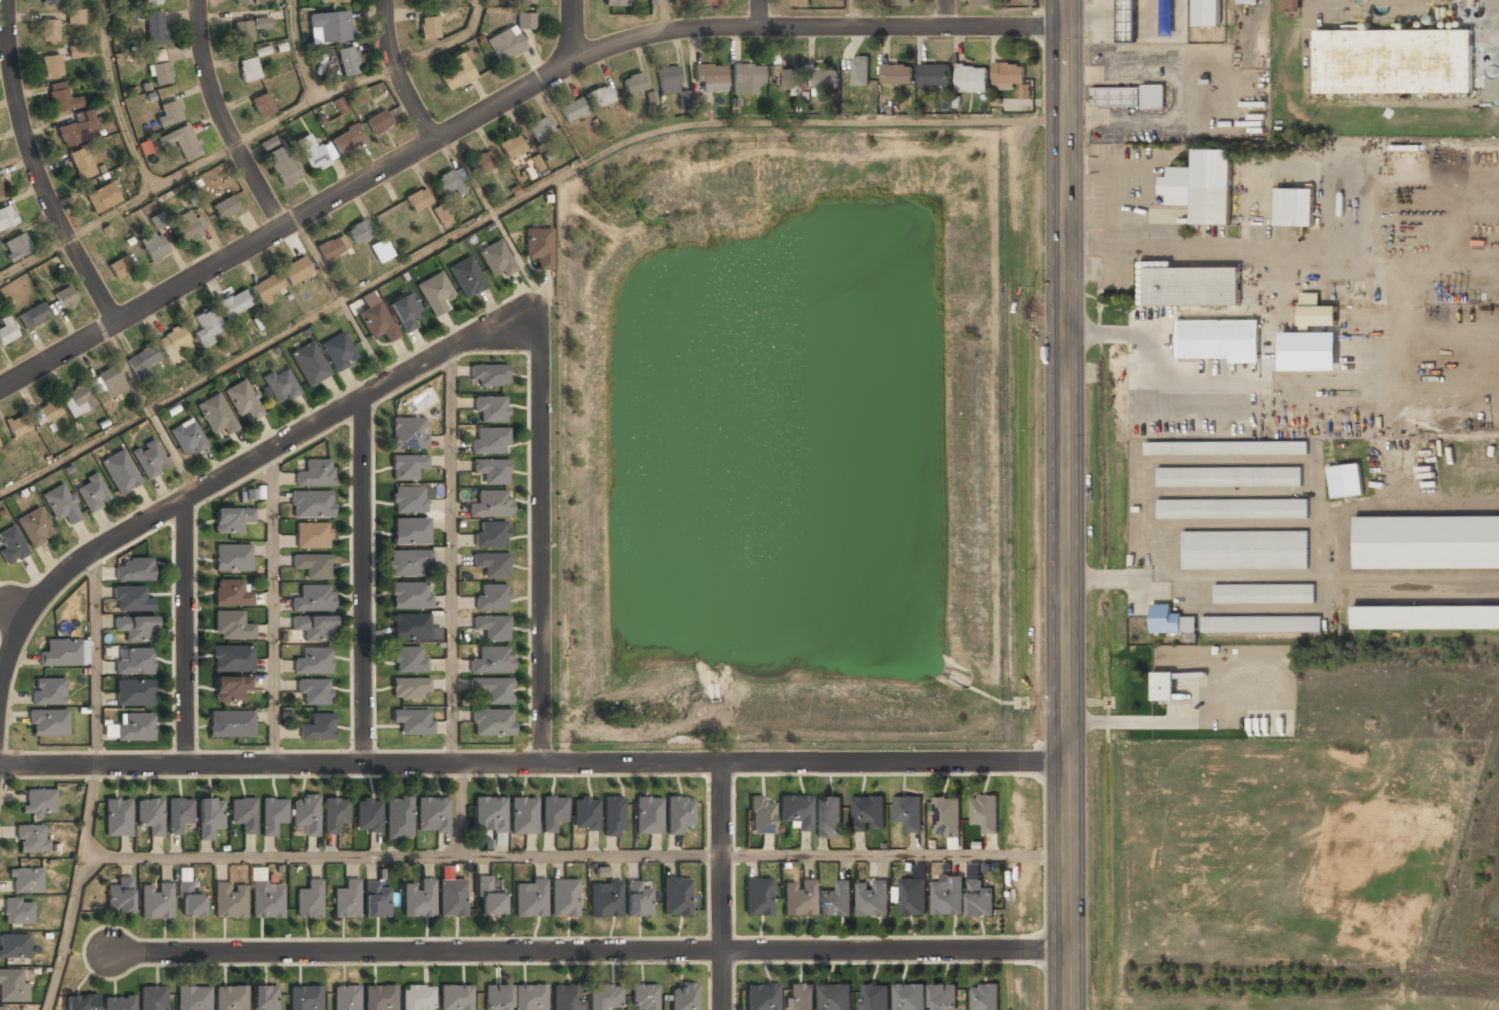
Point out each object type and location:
building: (429, 0)
building: (334, 1)
building: (527, 1)
building: (986, 1)
building: (1248, 1)
building: (50, 2)
building: (152, 2)
building: (249, 2)
building: (678, 2)
building: (709, 2)
building: (800, 2)
building: (899, 2)
building: (613, 3)
building: (1291, 5)
building: (1207, 12)
road: (851, 13)
road: (946, 13)
road: (759, 14)
building: (75, 16)
road: (660, 16)
building: (526, 20)
building: (1127, 21)
building: (261, 23)
building: (429, 26)
building: (329, 27)
building: (155, 28)
road: (571, 30)
building: (49, 31)
building: (243, 32)
building: (506, 44)
road: (298, 49)
building: (76, 51)
building: (347, 61)
building: (1394, 61)
building: (52, 67)
building: (160, 68)
building: (249, 68)
building: (458, 69)
building: (861, 70)
building: (897, 73)
road: (397, 74)
building: (934, 75)
building: (1010, 77)
building: (710, 78)
building: (825, 78)
building: (746, 79)
building: (787, 79)
building: (972, 79)
building: (668, 80)
building: (634, 83)
building: (1026, 91)
building: (600, 96)
building: (1128, 96)
building: (61, 98)
road: (116, 98)
road: (501, 101)
building: (691, 102)
building: (263, 104)
building: (340, 105)
building: (572, 110)
building: (169, 112)
road: (221, 119)
building: (378, 121)
building: (539, 129)
building: (72, 135)
road: (245, 138)
building: (346, 139)
building: (182, 141)
building: (267, 143)
building: (511, 147)
building: (311, 152)
building: (81, 163)
building: (482, 163)
building: (282, 165)
road: (35, 170)
building: (448, 182)
building: (1202, 186)
building: (1, 190)
building: (101, 197)
building: (418, 199)
building: (1294, 206)
building: (225, 207)
road: (504, 207)
building: (442, 215)
building: (7, 217)
building: (186, 226)
building: (359, 231)
building: (153, 245)
building: (16, 246)
building: (332, 247)
building: (538, 247)
building: (381, 250)
building: (496, 259)
building: (120, 266)
building: (296, 270)
building: (466, 277)
building: (266, 288)
building: (435, 292)
building: (65, 296)
building: (235, 304)
building: (405, 312)
building: (1315, 312)
building: (33, 316)
building: (376, 322)
building: (207, 327)
building: (7, 331)
building: (1219, 339)
building: (175, 345)
building: (339, 352)
building: (142, 361)
building: (310, 364)
building: (489, 375)
building: (110, 382)
building: (281, 385)
building: (77, 400)
building: (244, 400)
building: (491, 409)
building: (46, 413)
building: (216, 414)
building: (18, 424)
building: (408, 432)
building: (188, 438)
building: (489, 440)
building: (1227, 447)
building: (150, 459)
building: (407, 466)
building: (491, 470)
building: (121, 472)
building: (315, 473)
road: (226, 475)
building: (1230, 476)
building: (1346, 480)
building: (92, 493)
building: (409, 500)
building: (311, 503)
building: (61, 504)
building: (491, 504)
road: (1066, 504)
building: (1233, 508)
building: (231, 520)
building: (35, 528)
building: (411, 531)
road: (540, 531)
building: (312, 535)
building: (491, 535)
building: (1427, 542)
building: (11, 546)
building: (1246, 549)
road: (451, 556)
building: (233, 558)
building: (408, 563)
building: (313, 565)
building: (492, 565)
building: (135, 569)
road: (362, 582)
building: (231, 593)
building: (1265, 593)
building: (410, 596)
building: (492, 597)
building: (132, 598)
building: (313, 598)
road: (273, 608)
building: (1425, 617)
building: (1173, 621)
building: (1262, 624)
building: (232, 627)
building: (410, 627)
building: (492, 627)
building: (136, 628)
building: (313, 628)
road: (185, 632)
building: (59, 653)
road: (94, 659)
building: (232, 660)
building: (408, 660)
building: (491, 660)
building: (314, 661)
building: (136, 663)
building: (1163, 685)
building: (230, 689)
building: (409, 689)
building: (491, 689)
building: (48, 692)
building: (314, 692)
building: (134, 694)
building: (412, 721)
building: (48, 723)
building: (491, 723)
building: (230, 725)
building: (132, 728)
building: (317, 728)
road: (533, 764)
building: (39, 802)
building: (796, 811)
building: (552, 812)
building: (867, 812)
building: (908, 812)
building: (985, 812)
building: (305, 813)
building: (334, 813)
building: (585, 813)
building: (678, 813)
building: (272, 814)
building: (178, 815)
building: (243, 815)
building: (368, 815)
building: (432, 815)
building: (489, 815)
building: (150, 816)
building: (523, 816)
building: (613, 816)
building: (647, 816)
building: (761, 816)
building: (947, 816)
building: (118, 817)
building: (829, 817)
building: (209, 818)
building: (398, 818)
building: (32, 839)
road: (894, 852)
road: (403, 855)
building: (975, 871)
building: (26, 881)
road: (721, 886)
road: (76, 889)
building: (119, 895)
building: (676, 895)
building: (947, 895)
building: (757, 896)
building: (912, 896)
building: (452, 898)
building: (530, 898)
building: (564, 898)
building: (798, 898)
building: (873, 898)
building: (418, 899)
building: (489, 899)
building: (605, 899)
building: (980, 899)
building: (267, 900)
building: (309, 900)
building: (346, 900)
building: (636, 900)
building: (837, 900)
building: (229, 901)
building: (376, 901)
building: (156, 902)
building: (189, 902)
building: (18, 912)
building: (13, 947)
road: (589, 952)
building: (13, 986)
building: (604, 996)
building: (644, 996)
building: (985, 996)
building: (264, 997)
building: (496, 997)
building: (530, 997)
building: (566, 997)
building: (683, 997)
building: (761, 997)
building: (801, 997)
building: (835, 997)
building: (874, 997)
building: (910, 997)
building: (944, 997)
building: (152, 998)
building: (193, 998)
building: (231, 998)
building: (305, 998)
building: (345, 998)
building: (380, 998)
building: (417, 998)
building: (455, 998)
building: (81, 1003)
building: (119, 1003)
building: (3, 1009)

